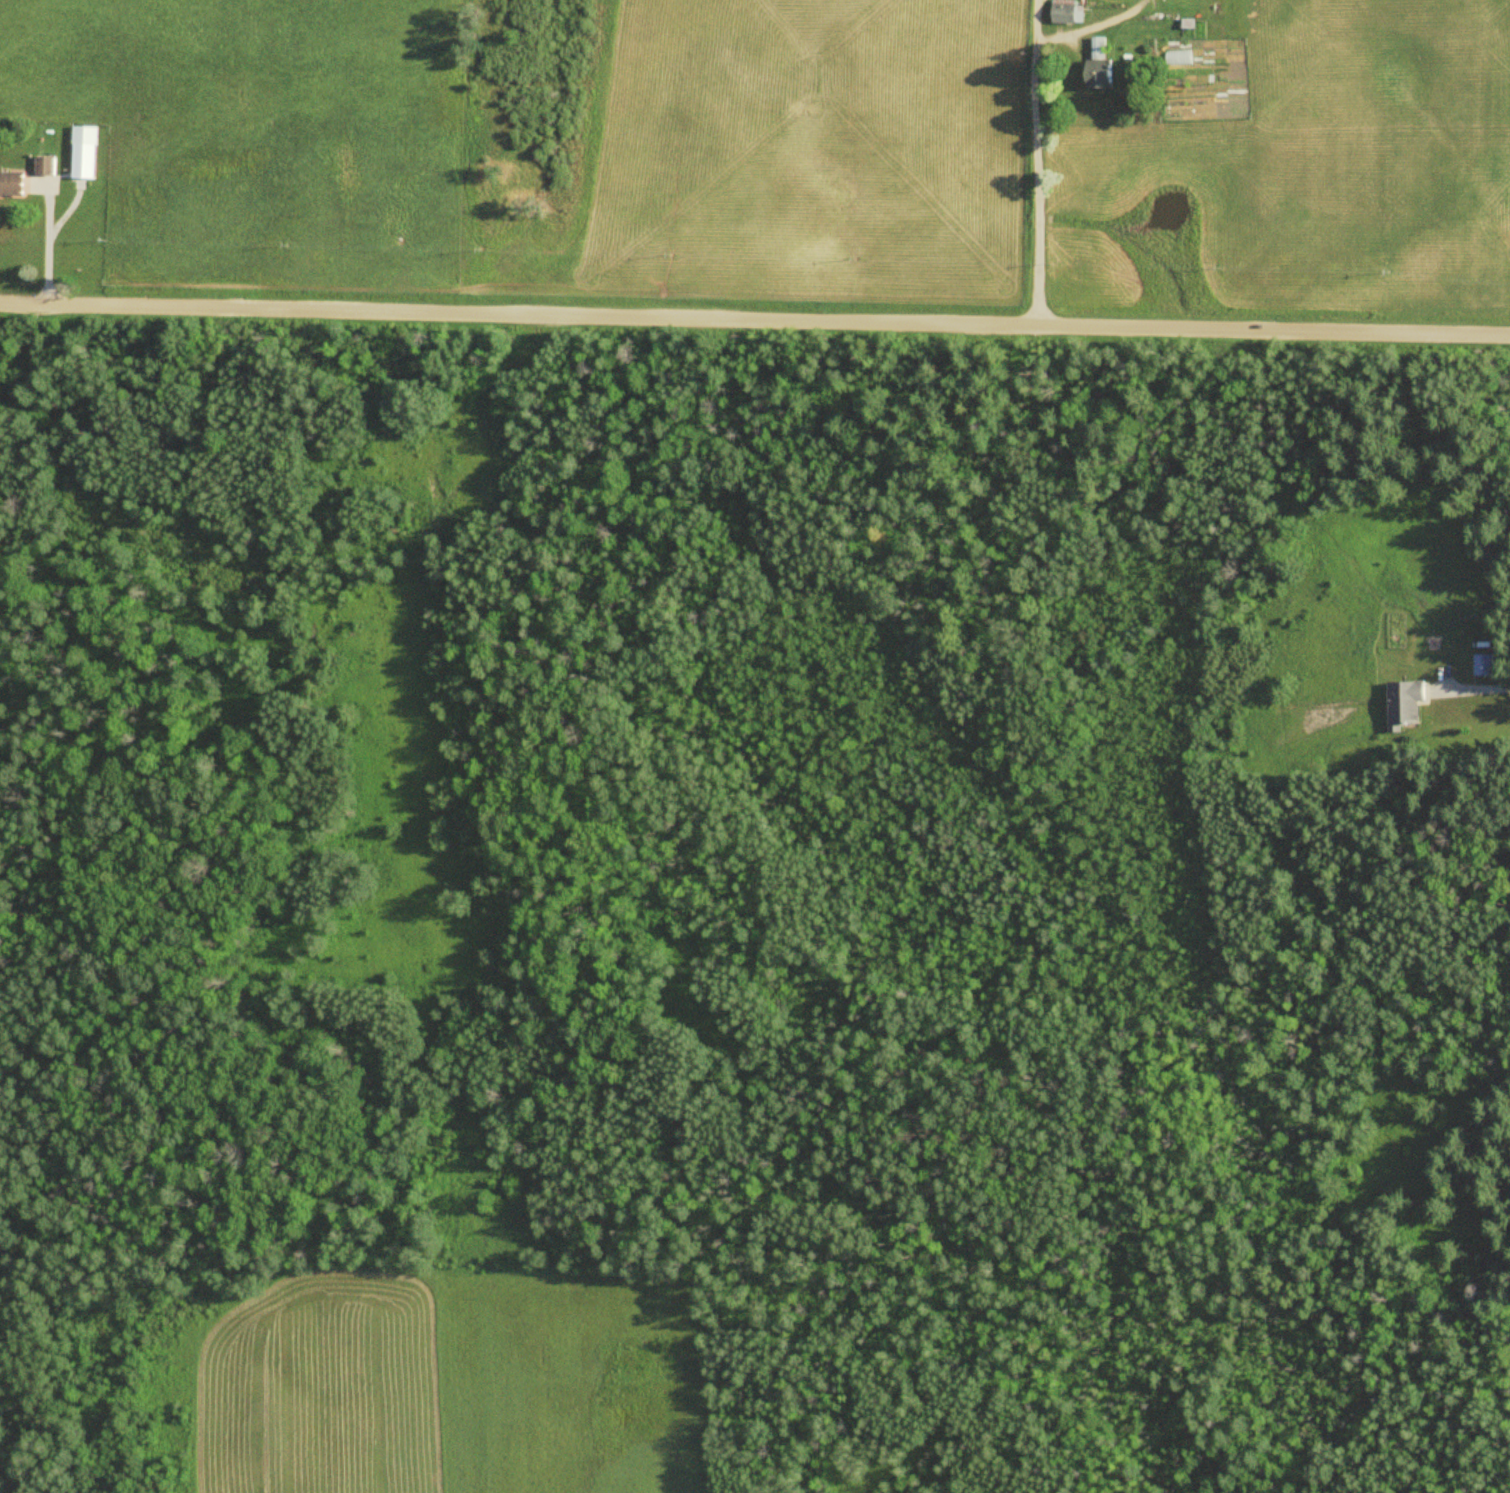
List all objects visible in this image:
building: (1068, 11)
building: (1180, 56)
building: (1103, 66)
building: (87, 152)
building: (46, 175)
building: (13, 184)
road: (755, 317)
building: (1486, 663)
building: (1408, 701)

